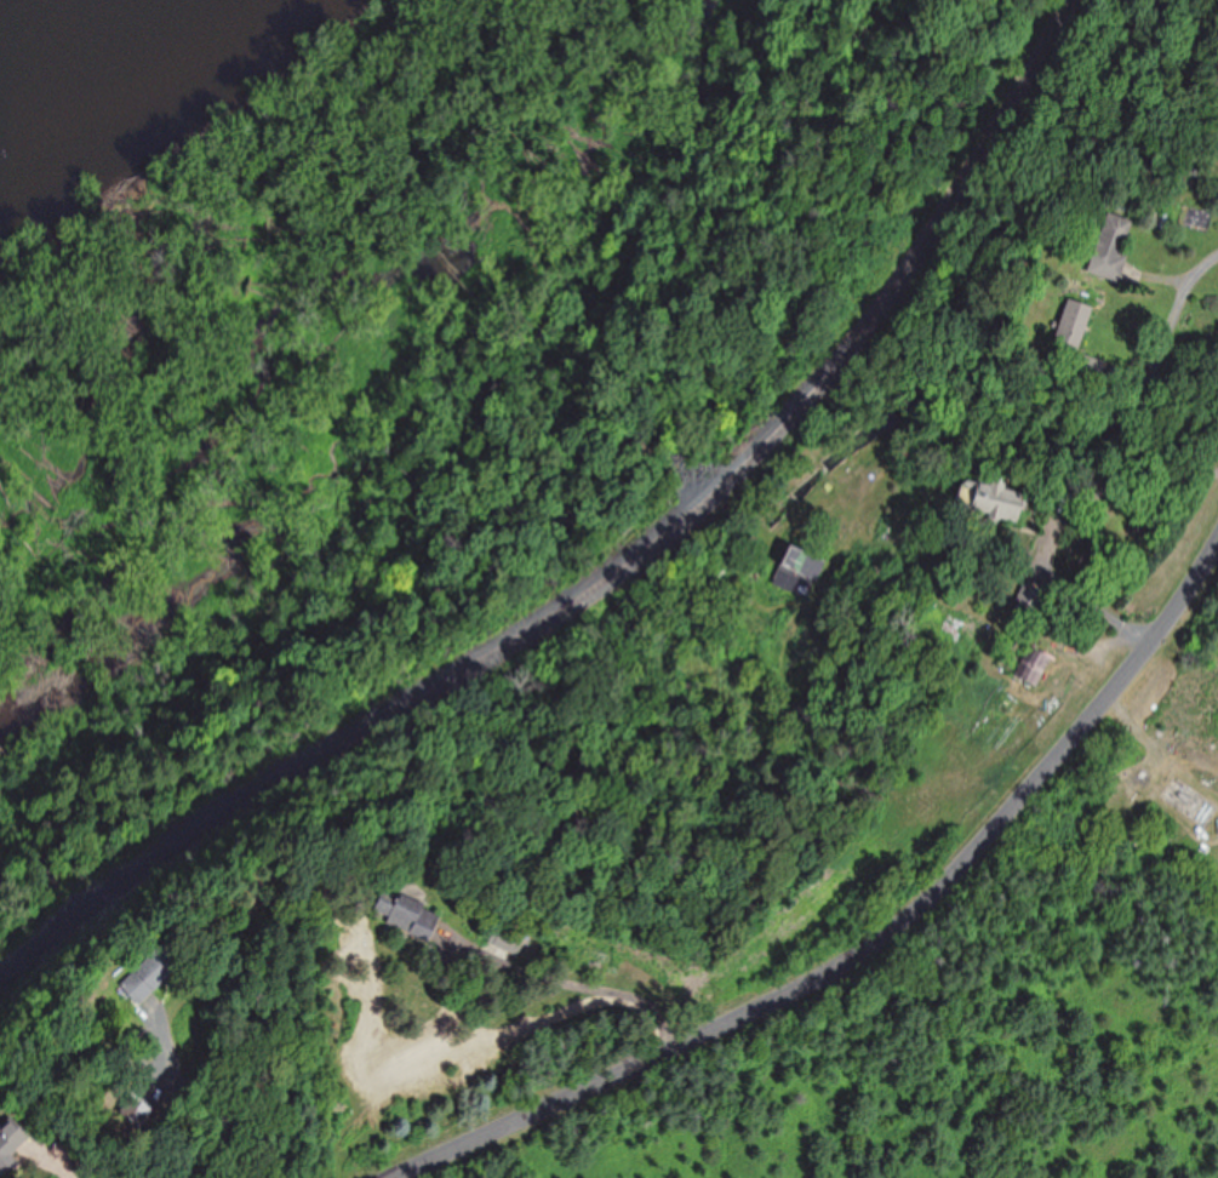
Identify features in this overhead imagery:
river: (23, 18)
building: (1113, 246)
building: (1075, 325)
building: (994, 501)
building: (802, 562)
railway: (613, 576)
building: (1033, 599)
building: (411, 916)
building: (507, 939)
road: (860, 950)
building: (156, 971)
building: (11, 1144)

